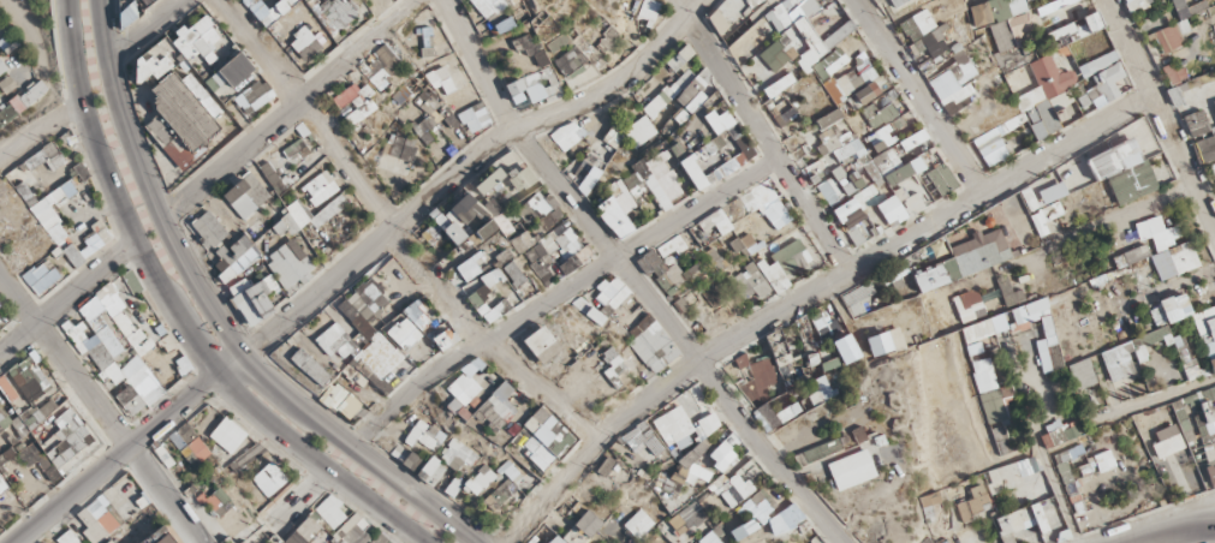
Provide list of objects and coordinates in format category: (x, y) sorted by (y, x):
building: (261, 5)
building: (647, 14)
building: (924, 14)
road: (139, 28)
road: (41, 41)
road: (911, 94)
building: (887, 105)
road: (287, 108)
road: (1157, 117)
building: (191, 121)
road: (40, 127)
road: (756, 133)
building: (320, 189)
building: (1043, 196)
building: (863, 201)
building: (282, 227)
road: (385, 233)
road: (1113, 234)
road: (344, 261)
building: (673, 275)
road: (629, 279)
road: (553, 292)
road: (804, 292)
road: (67, 298)
road: (178, 314)
road: (215, 317)
building: (833, 339)
road: (1153, 395)
road: (1032, 446)
road: (304, 497)
road: (1174, 535)

